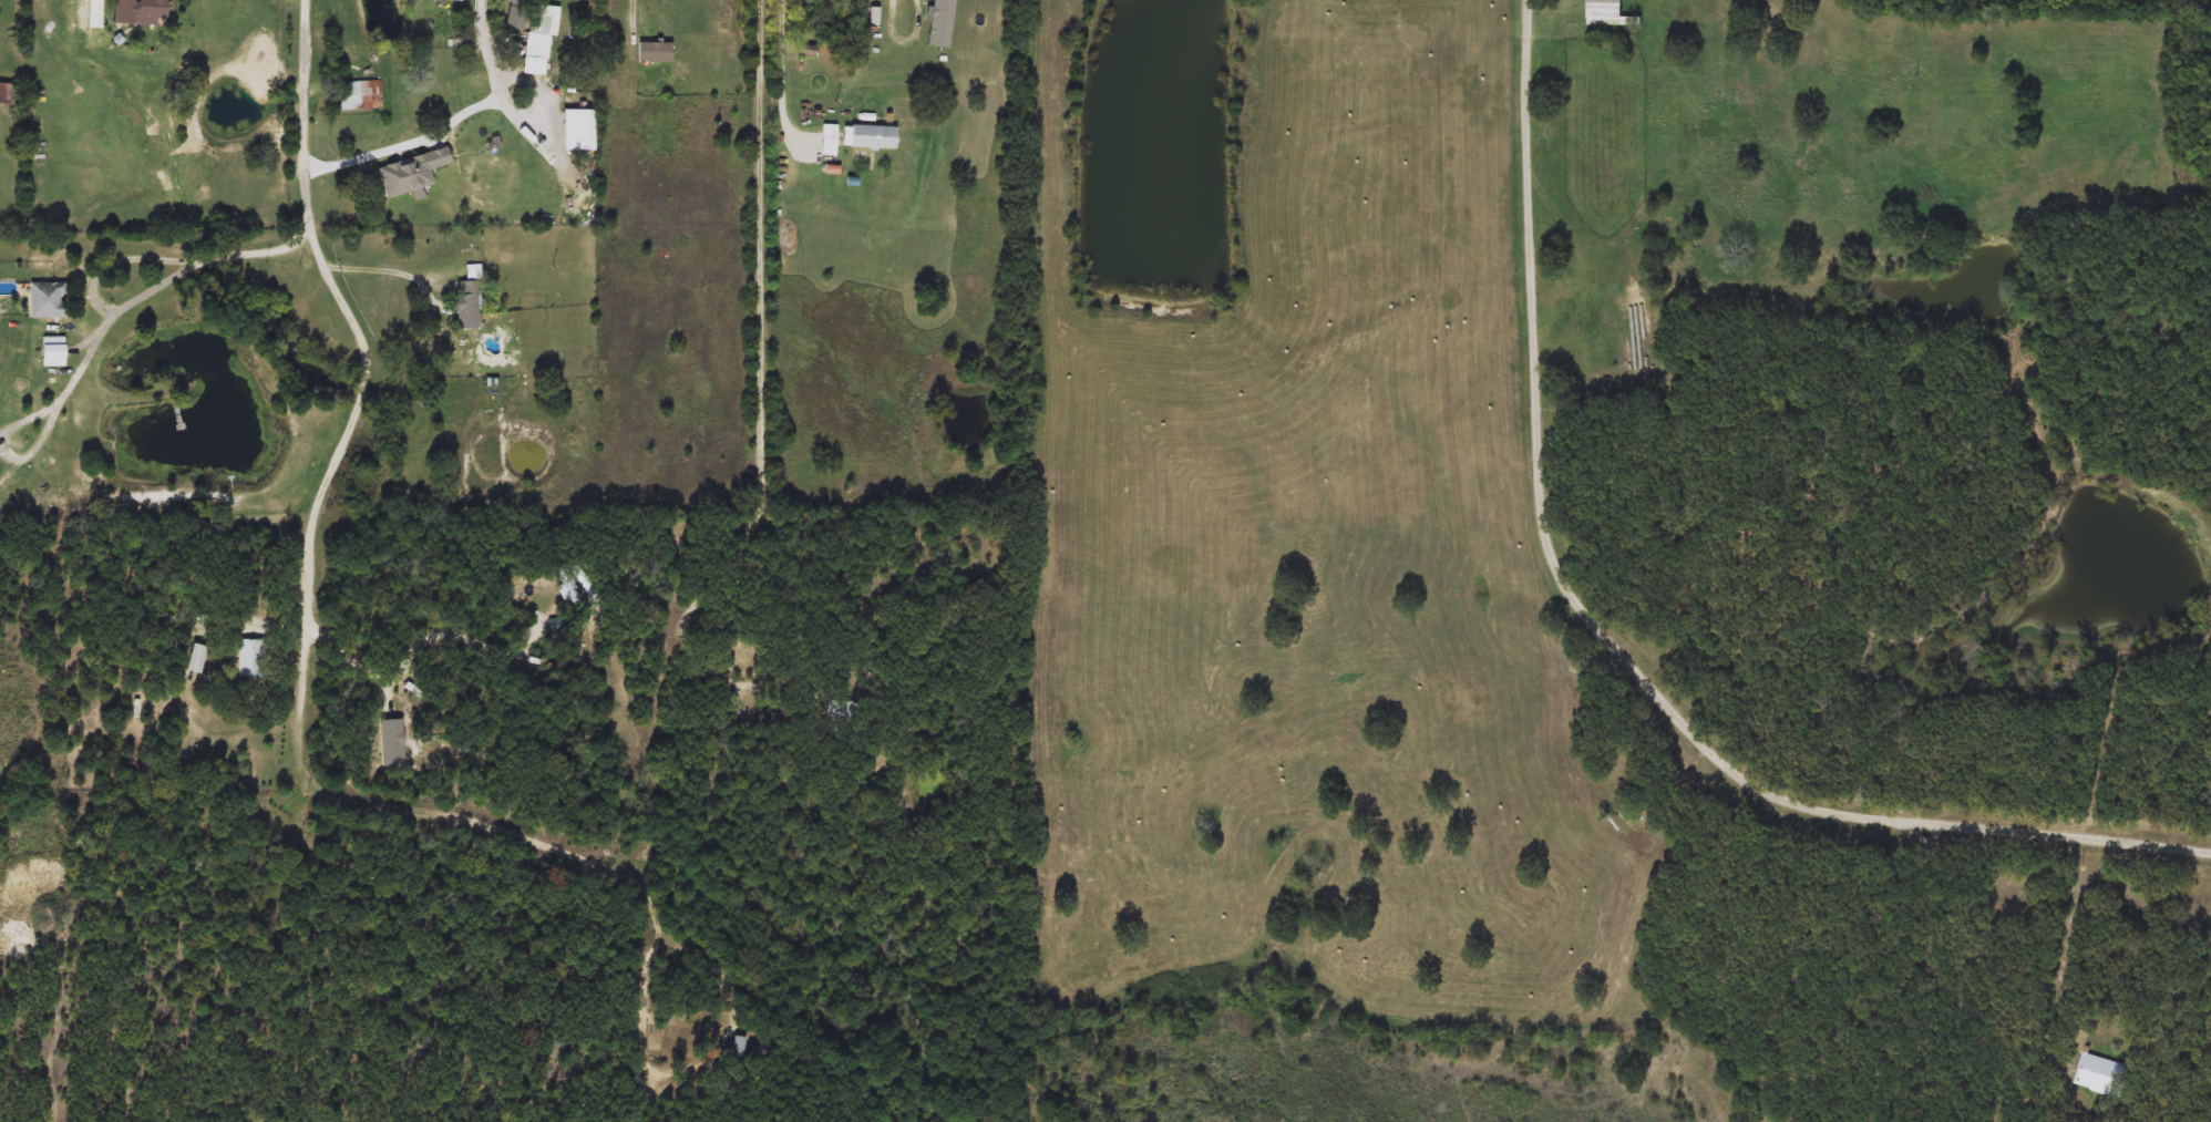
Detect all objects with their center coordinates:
building: (153, 10)
building: (1608, 13)
road: (481, 16)
road: (637, 18)
building: (102, 24)
road: (428, 38)
building: (537, 47)
building: (655, 52)
road: (783, 74)
building: (9, 94)
building: (361, 95)
road: (479, 107)
building: (868, 137)
road: (135, 254)
road: (257, 254)
road: (391, 271)
building: (48, 299)
building: (469, 306)
building: (53, 351)
road: (764, 403)
road: (39, 415)
road: (311, 545)
road: (1614, 640)
building: (195, 659)
building: (251, 659)
road: (403, 667)
building: (845, 712)
road: (224, 733)
building: (278, 816)
road: (1975, 949)
road: (645, 971)
building: (739, 1044)
building: (2099, 1068)

